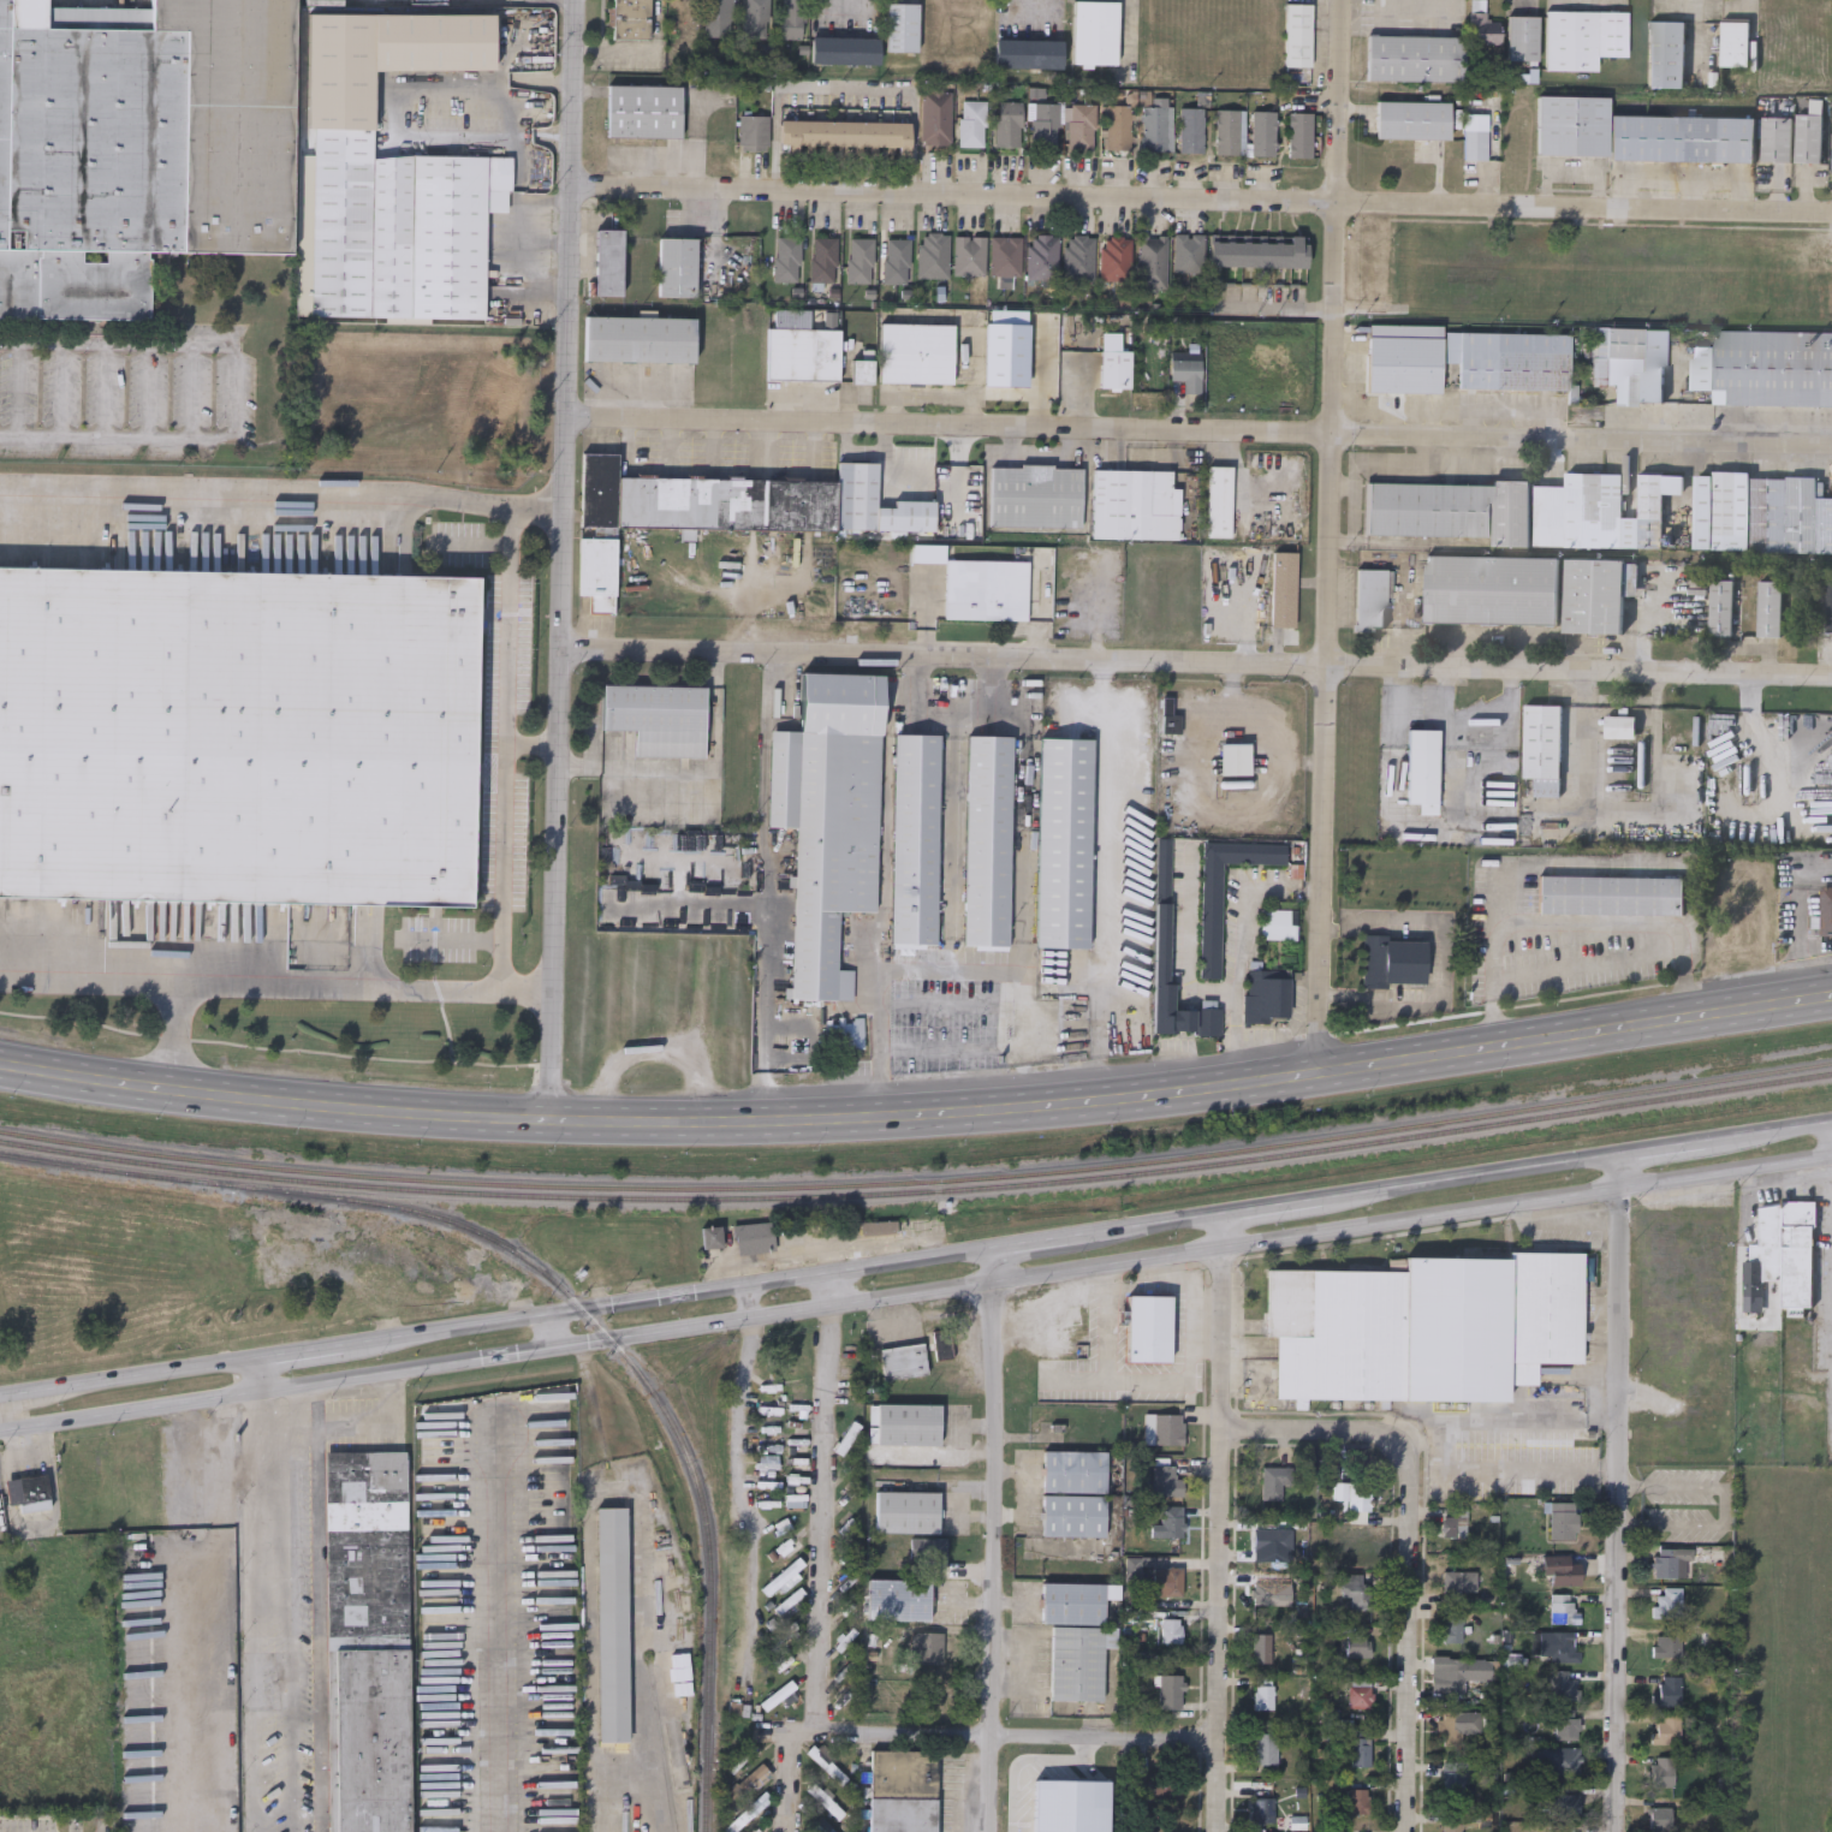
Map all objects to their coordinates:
building: (719, 17)
building: (756, 18)
building: (792, 18)
building: (630, 19)
building: (902, 26)
building: (1483, 28)
building: (1095, 32)
building: (1298, 34)
building: (1523, 36)
building: (1583, 37)
building: (1736, 42)
building: (844, 49)
building: (1029, 53)
building: (1667, 53)
building: (1416, 56)
building: (644, 109)
building: (935, 117)
building: (1414, 118)
building: (972, 123)
building: (1009, 123)
building: (1045, 124)
building: (1574, 124)
building: (1082, 126)
building: (1118, 127)
building: (1156, 127)
building: (1190, 129)
building: (753, 131)
building: (1230, 131)
building: (844, 132)
building: (1263, 132)
building: (1299, 133)
building: (1683, 137)
building: (1809, 137)
building: (1778, 138)
building: (1475, 143)
building: (137, 144)
road: (1198, 202)
building: (399, 228)
building: (1189, 251)
building: (1260, 252)
building: (933, 254)
building: (969, 254)
building: (1006, 255)
building: (1042, 256)
building: (1079, 256)
building: (1116, 257)
building: (786, 258)
building: (825, 258)
building: (860, 260)
building: (897, 261)
building: (608, 262)
building: (1152, 262)
building: (677, 266)
building: (1593, 278)
road: (1278, 307)
building: (640, 340)
building: (916, 352)
building: (803, 355)
building: (1464, 358)
building: (1631, 362)
building: (1766, 367)
building: (1114, 369)
building: (862, 371)
building: (1188, 374)
road: (237, 389)
road: (1201, 433)
road: (629, 442)
road: (670, 442)
road: (714, 444)
road: (765, 444)
road: (815, 447)
road: (284, 487)
building: (1035, 496)
building: (1218, 501)
building: (1135, 504)
building: (725, 508)
building: (1524, 510)
building: (1761, 513)
road: (1334, 536)
road: (564, 560)
building: (1372, 583)
building: (1283, 588)
building: (985, 589)
building: (1492, 589)
building: (1598, 593)
building: (1830, 602)
building: (1720, 607)
building: (1768, 608)
road: (1196, 661)
road: (777, 677)
road: (1021, 709)
road: (982, 710)
building: (658, 718)
building: (1170, 722)
building: (238, 732)
road: (506, 748)
road: (533, 748)
building: (1542, 748)
building: (1422, 769)
road: (885, 809)
road: (1248, 811)
building: (828, 819)
park: (914, 838)
road: (1024, 838)
building: (917, 841)
building: (987, 841)
building: (1064, 843)
road: (948, 852)
road: (1586, 864)
building: (1611, 894)
road: (766, 908)
building: (1162, 910)
building: (1826, 911)
building: (1211, 920)
road: (1592, 927)
road: (1023, 954)
building: (1393, 960)
road: (1073, 970)
road: (275, 982)
road: (1239, 982)
building: (1266, 994)
road: (173, 1034)
road: (1577, 1035)
road: (1286, 1078)
road: (624, 1122)
road: (1768, 1132)
road: (1658, 1148)
road: (1465, 1176)
railway: (918, 1179)
railway: (918, 1191)
road: (1271, 1205)
road: (1143, 1224)
building: (876, 1229)
building: (710, 1238)
building: (754, 1238)
road: (1031, 1239)
building: (1783, 1254)
road: (1152, 1267)
railway: (563, 1290)
road: (668, 1293)
road: (916, 1293)
road: (748, 1302)
road: (1191, 1308)
building: (1542, 1313)
building: (1158, 1314)
road: (1205, 1320)
building: (1456, 1327)
road: (554, 1332)
building: (1336, 1332)
building: (1688, 1333)
road: (305, 1350)
road: (250, 1358)
building: (902, 1361)
road: (270, 1373)
road: (117, 1378)
road: (236, 1378)
road: (1476, 1405)
building: (908, 1423)
road: (381, 1424)
building: (1060, 1428)
building: (1168, 1428)
road: (1503, 1430)
road: (1029, 1438)
building: (1073, 1470)
building: (1165, 1480)
building: (1274, 1480)
road: (52, 1486)
building: (29, 1491)
road: (1614, 1493)
road: (743, 1498)
building: (1351, 1500)
road: (1724, 1506)
building: (906, 1511)
building: (1073, 1516)
building: (1563, 1519)
building: (1168, 1522)
road: (1218, 1522)
building: (1457, 1522)
road: (993, 1539)
building: (365, 1541)
building: (1266, 1541)
building: (786, 1546)
road: (1408, 1546)
building: (928, 1548)
road: (817, 1557)
building: (1667, 1560)
building: (1563, 1570)
building: (781, 1576)
building: (1166, 1581)
building: (1458, 1582)
building: (1265, 1587)
building: (1352, 1588)
building: (899, 1599)
building: (1076, 1602)
building: (1667, 1602)
road: (323, 1607)
building: (1563, 1610)
road: (280, 1611)
building: (612, 1623)
road: (500, 1624)
building: (1452, 1629)
building: (1170, 1630)
building: (845, 1638)
building: (849, 1641)
building: (1358, 1644)
building: (1666, 1644)
building: (927, 1646)
building: (1556, 1646)
building: (1261, 1647)
building: (1077, 1661)
building: (1455, 1675)
building: (1562, 1685)
building: (1671, 1689)
building: (1171, 1690)
building: (777, 1693)
building: (1263, 1695)
building: (1360, 1695)
building: (1566, 1724)
building: (1457, 1725)
building: (1667, 1727)
road: (1013, 1738)
building: (367, 1739)
railway: (661, 1747)
building: (1265, 1748)
building: (1360, 1750)
building: (825, 1760)
building: (1558, 1761)
building: (1663, 1771)
road: (648, 1778)
building: (1453, 1778)
building: (1159, 1785)
building: (903, 1790)
building: (825, 1801)
building: (1358, 1801)
building: (1563, 1801)
building: (1262, 1808)
building: (1663, 1819)
building: (817, 1825)
building: (1452, 1827)
building: (1562, 1830)
building: (1336, 1831)

